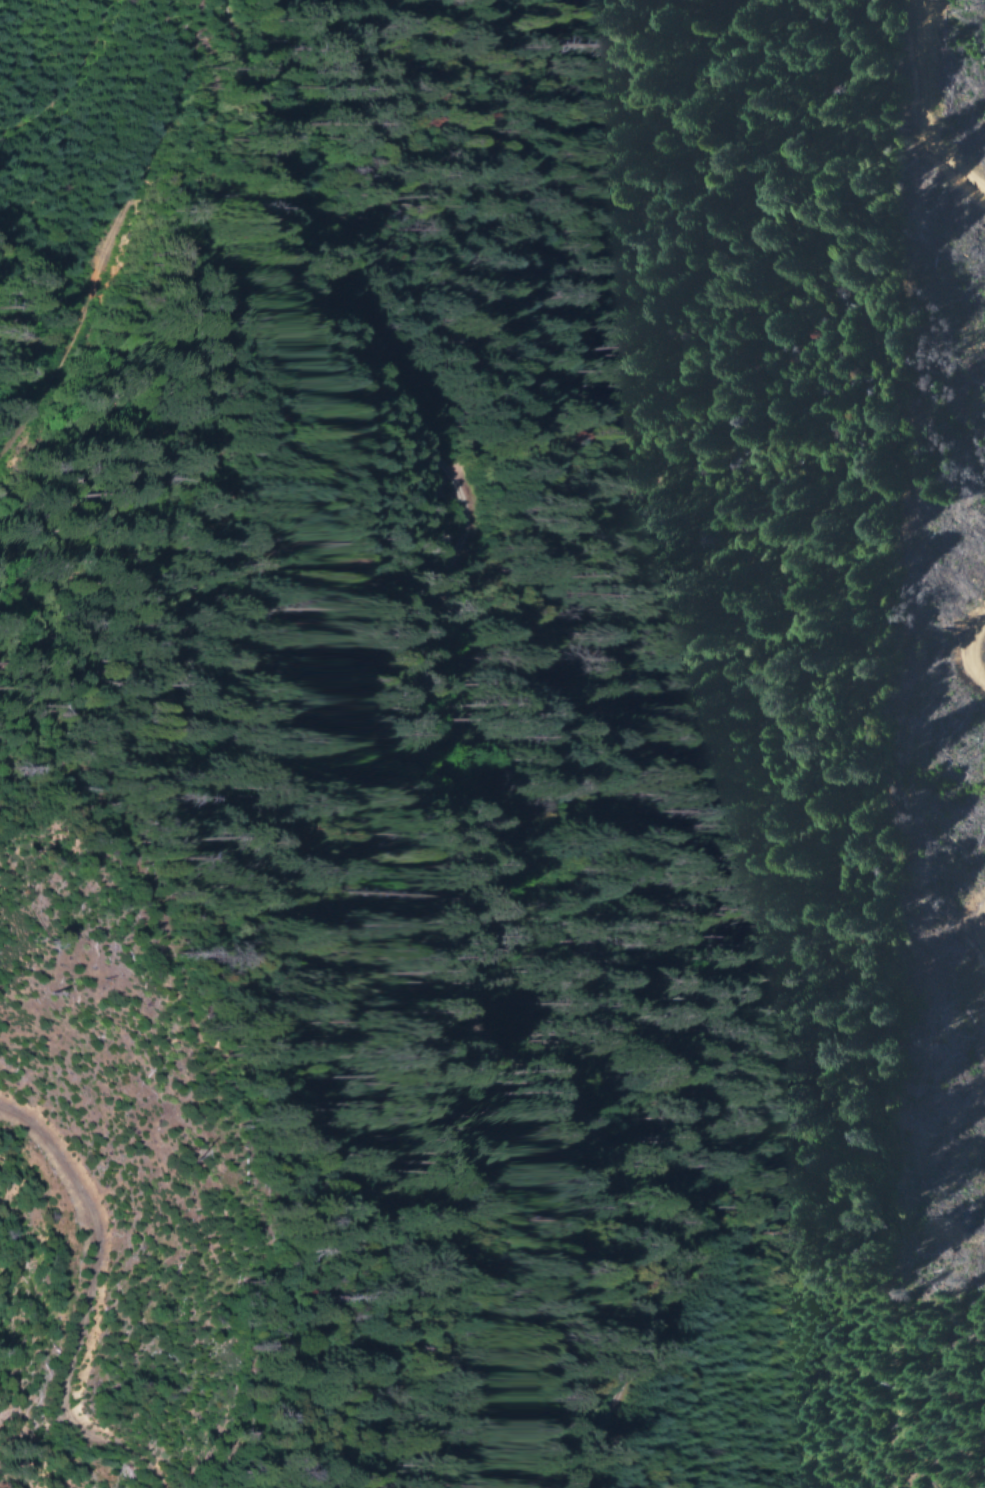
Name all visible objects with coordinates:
road: (109, 236)
road: (419, 761)
road: (80, 1309)

